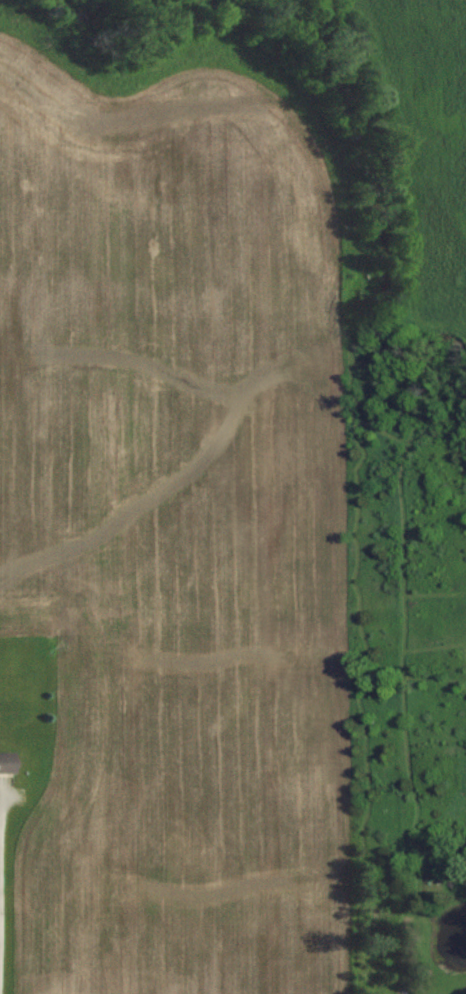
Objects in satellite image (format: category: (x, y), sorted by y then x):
building: (8, 762)
road: (1, 896)

